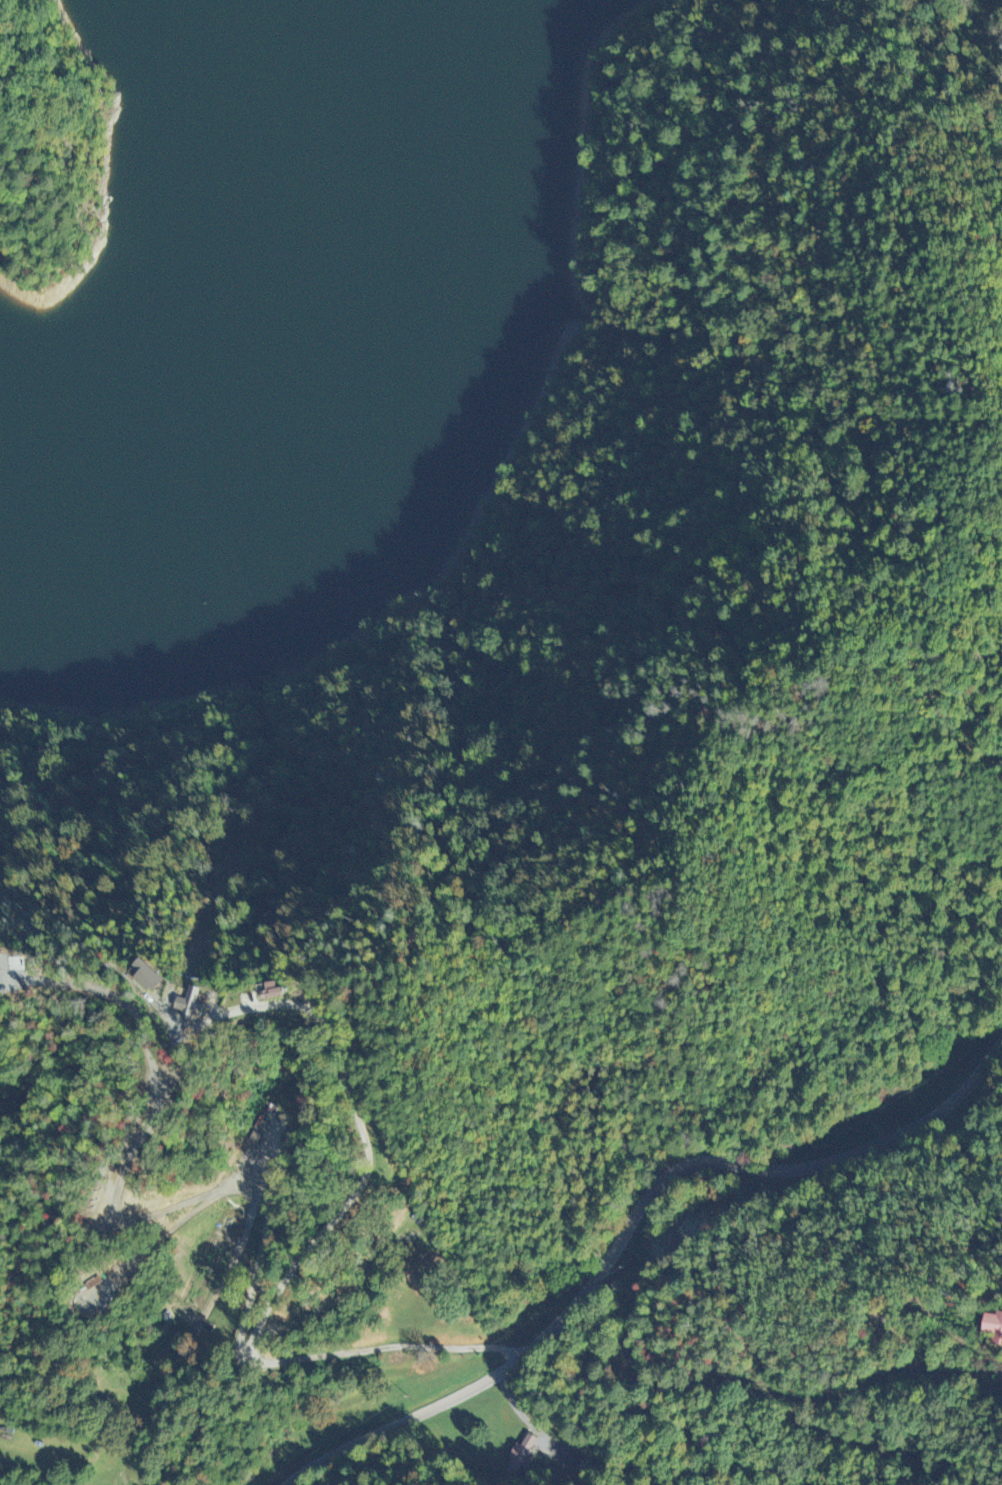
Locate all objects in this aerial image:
river: (326, 370)
building: (131, 979)
building: (260, 994)
building: (172, 1007)
road: (626, 1232)
building: (992, 1329)
building: (524, 1453)

